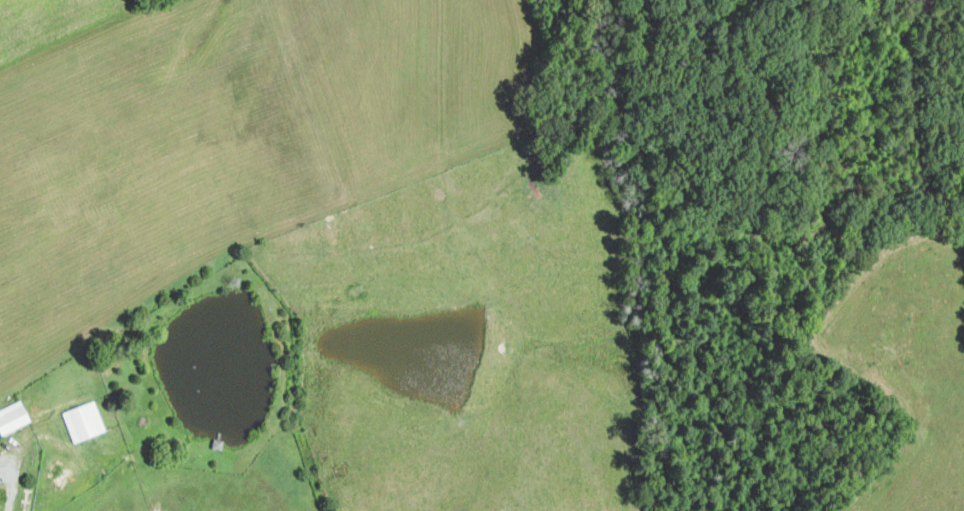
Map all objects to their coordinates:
building: (16, 416)
building: (86, 421)

